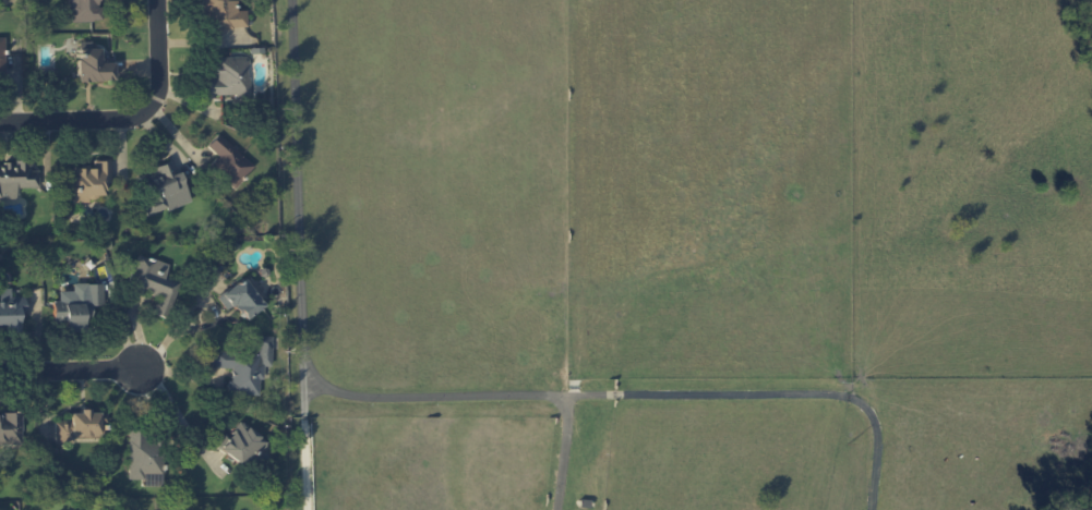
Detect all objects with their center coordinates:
building: (83, 10)
building: (221, 15)
building: (1, 61)
building: (92, 63)
building: (227, 77)
road: (133, 118)
building: (228, 161)
building: (16, 178)
building: (89, 180)
building: (160, 189)
road: (303, 255)
building: (154, 283)
building: (240, 299)
road: (191, 305)
building: (76, 306)
building: (10, 309)
building: (244, 366)
road: (71, 371)
road: (645, 396)
road: (181, 416)
building: (79, 425)
building: (10, 429)
building: (243, 447)
road: (562, 452)

